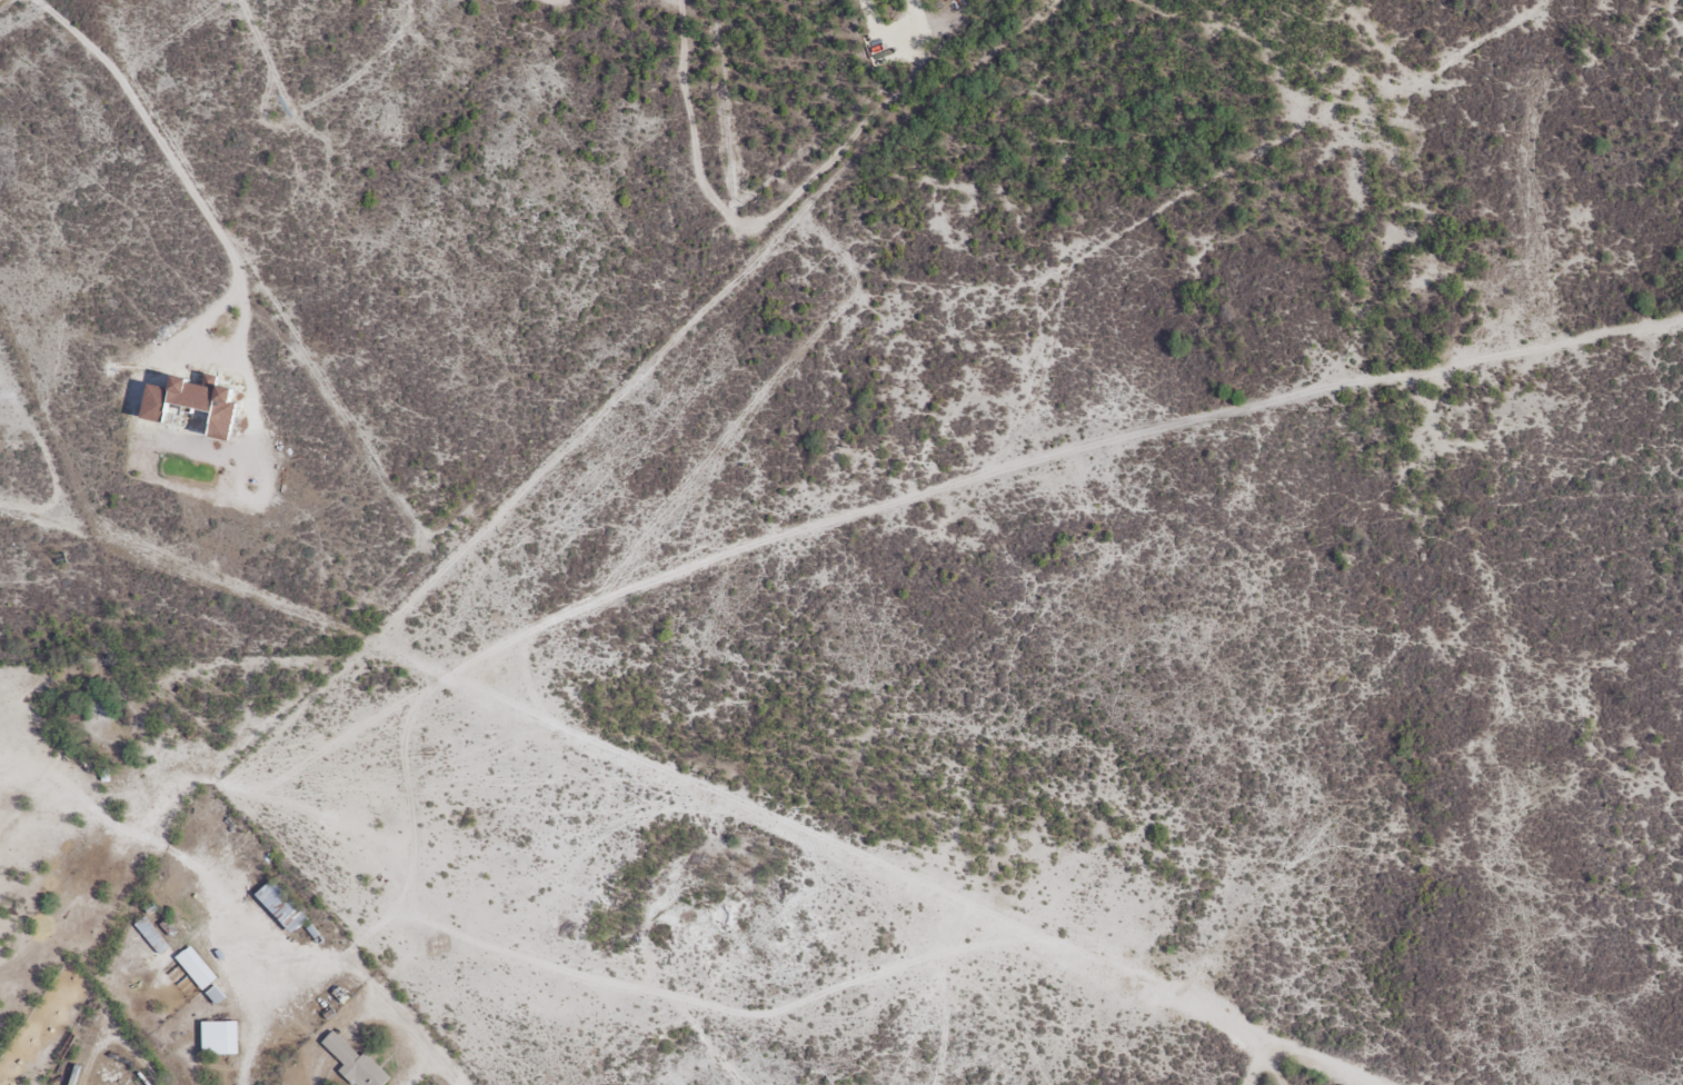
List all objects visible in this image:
road: (400, 577)
building: (278, 907)
building: (149, 935)
building: (193, 967)
building: (217, 1037)
road: (1312, 1047)
building: (350, 1061)

